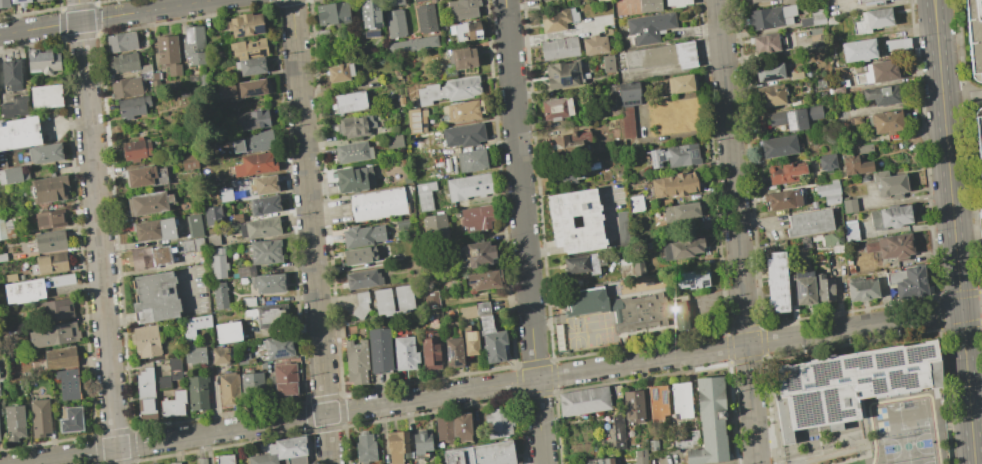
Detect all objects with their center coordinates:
building: (41, 0)
building: (418, 0)
building: (599, 0)
building: (754, 0)
building: (788, 1)
building: (863, 1)
building: (19, 2)
building: (395, 2)
building: (676, 2)
building: (4, 3)
road: (864, 4)
building: (648, 5)
building: (462, 9)
building: (332, 12)
road: (105, 17)
building: (369, 17)
building: (770, 17)
rooftop solar panel: (345, 18)
building: (424, 19)
building: (557, 19)
building: (817, 19)
building: (871, 20)
building: (394, 23)
building: (245, 24)
building: (648, 27)
rooftop solar panel: (259, 29)
building: (465, 30)
rooftop solar panel: (240, 33)
road: (560, 34)
rooftop solar panel: (189, 35)
rooftop solar panel: (372, 35)
building: (975, 36)
building: (121, 41)
building: (763, 42)
building: (897, 43)
building: (193, 44)
building: (412, 44)
building: (593, 45)
building: (856, 46)
building: (248, 48)
building: (558, 48)
building: (167, 53)
building: (660, 56)
building: (461, 57)
building: (42, 61)
building: (123, 62)
building: (607, 63)
building: (250, 66)
building: (144, 71)
building: (768, 71)
building: (339, 72)
building: (876, 72)
building: (11, 74)
building: (562, 74)
building: (154, 76)
rooftop solar panel: (769, 78)
rooftop solar panel: (564, 80)
building: (679, 83)
building: (155, 85)
building: (981, 85)
building: (125, 87)
building: (250, 87)
building: (837, 88)
building: (449, 90)
rooftop solar panel: (254, 91)
building: (183, 93)
building: (770, 95)
building: (881, 95)
building: (45, 96)
building: (348, 102)
building: (132, 106)
building: (627, 106)
building: (14, 108)
building: (555, 108)
building: (462, 110)
building: (795, 117)
building: (255, 119)
rooftop solar panel: (791, 120)
building: (856, 120)
building: (413, 121)
building: (885, 122)
building: (353, 125)
building: (18, 133)
building: (463, 135)
building: (979, 137)
building: (393, 140)
building: (568, 141)
building: (253, 142)
building: (778, 146)
building: (864, 148)
building: (135, 149)
building: (353, 152)
building: (42, 153)
rooftop solar panel: (693, 153)
road: (947, 154)
building: (674, 155)
rooftop solar panel: (660, 158)
rooftop solar panel: (652, 159)
building: (471, 160)
building: (187, 161)
building: (826, 161)
building: (254, 164)
building: (854, 165)
building: (11, 172)
road: (732, 172)
building: (784, 172)
building: (570, 174)
building: (143, 176)
building: (353, 178)
building: (889, 183)
building: (263, 184)
building: (673, 184)
building: (468, 186)
building: (47, 189)
building: (828, 192)
building: (225, 194)
building: (424, 195)
building: (782, 199)
building: (147, 203)
building: (377, 203)
building: (635, 203)
building: (264, 204)
building: (849, 205)
building: (679, 211)
building: (212, 215)
building: (889, 216)
building: (476, 218)
building: (49, 219)
building: (808, 222)
building: (559, 223)
building: (401, 224)
building: (193, 225)
building: (434, 226)
building: (259, 227)
building: (622, 228)
building: (6, 229)
building: (154, 230)
building: (849, 230)
road: (310, 231)
road: (524, 231)
road: (97, 232)
building: (362, 235)
building: (831, 238)
building: (212, 241)
building: (47, 242)
building: (189, 245)
building: (891, 246)
building: (681, 248)
building: (264, 251)
building: (479, 253)
building: (359, 255)
building: (149, 257)
building: (216, 262)
building: (48, 263)
building: (583, 263)
building: (631, 268)
building: (241, 271)
building: (362, 279)
building: (483, 279)
building: (691, 279)
building: (60, 280)
rooftop solar panel: (706, 280)
building: (774, 282)
building: (910, 282)
building: (267, 283)
rooftop solar panel: (690, 284)
rooftop solar panel: (698, 285)
building: (802, 287)
building: (825, 287)
building: (860, 288)
rooftop solar panel: (799, 289)
building: (23, 291)
building: (219, 295)
building: (154, 297)
building: (403, 298)
building: (430, 299)
building: (248, 301)
building: (382, 301)
building: (360, 304)
road: (971, 307)
building: (619, 308)
building: (51, 310)
traffic signals: (960, 310)
building: (677, 313)
building: (269, 316)
building: (194, 325)
road: (853, 328)
building: (484, 329)
building: (227, 332)
building: (53, 335)
building: (144, 341)
building: (469, 341)
building: (278, 347)
building: (379, 350)
building: (453, 352)
rooftop solar panel: (280, 353)
building: (404, 353)
building: (430, 353)
rooftop solar panel: (449, 353)
rooftop solar panel: (918, 353)
building: (194, 354)
building: (219, 354)
building: (60, 358)
rooftop solar panel: (886, 358)
rooftop solar panel: (856, 361)
building: (356, 362)
rooftop solar panel: (455, 362)
building: (174, 368)
rooftop solar panel: (823, 372)
rooftop solar panel: (791, 378)
building: (284, 379)
rooftop solar panel: (902, 380)
building: (162, 382)
building: (66, 383)
building: (847, 383)
rooftop solar panel: (878, 386)
road: (967, 386)
building: (251, 387)
building: (228, 389)
building: (196, 392)
building: (144, 393)
rooftop solar panel: (653, 395)
rooftop solar panel: (664, 399)
building: (680, 400)
building: (583, 401)
building: (657, 402)
road: (751, 402)
building: (173, 404)
road: (382, 405)
rooftop solar panel: (831, 405)
building: (632, 407)
rooftop solar panel: (807, 410)
building: (40, 418)
building: (70, 420)
building: (13, 422)
building: (498, 422)
building: (711, 423)
building: (460, 426)
building: (443, 430)
building: (420, 442)
building: (652, 445)
building: (394, 447)
building: (364, 448)
building: (282, 452)
building: (480, 454)
building: (224, 459)
building: (201, 460)
building: (598, 460)
building: (640, 460)
road: (741, 462)
road: (756, 462)
building: (174, 463)
road: (666, 463)

